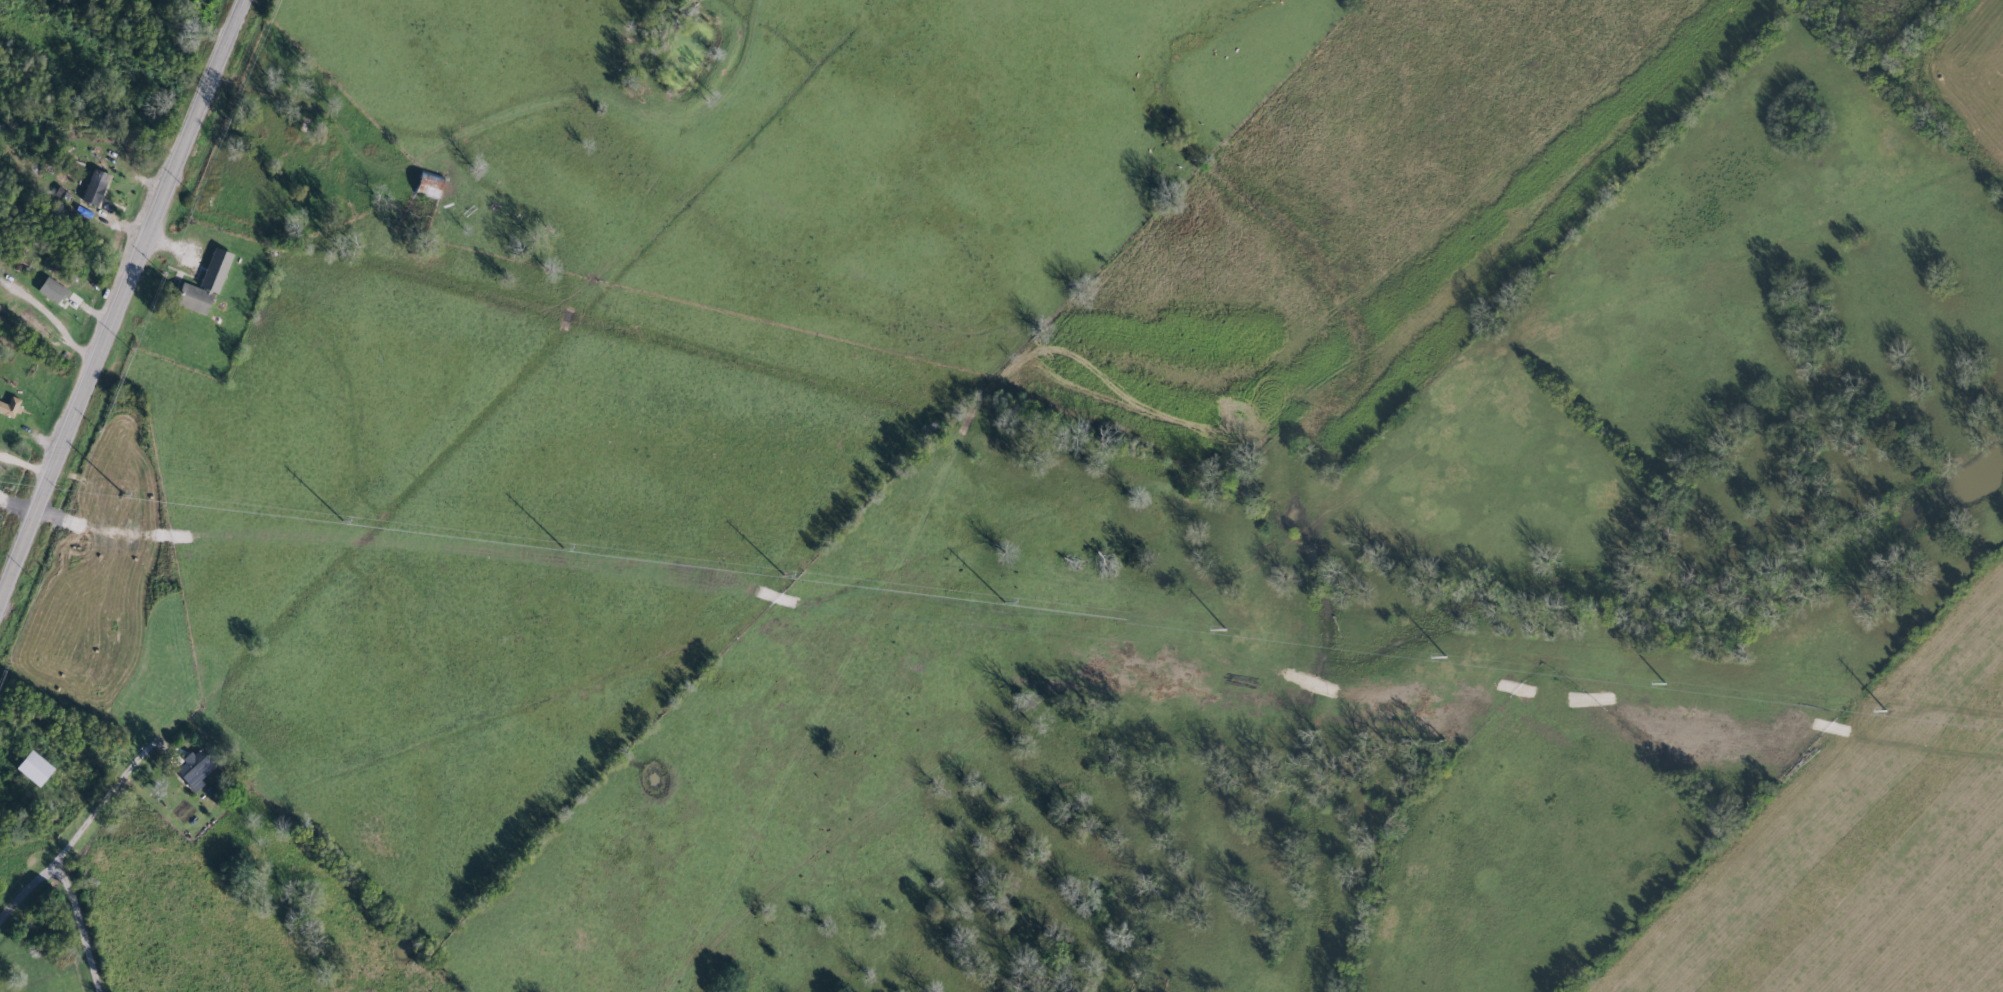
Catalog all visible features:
road: (1925, 105)
building: (424, 185)
building: (91, 187)
building: (201, 283)
building: (48, 289)
road: (120, 294)
building: (31, 321)
building: (8, 407)
building: (29, 768)
building: (189, 771)
road: (114, 789)
road: (29, 888)
road: (86, 921)

